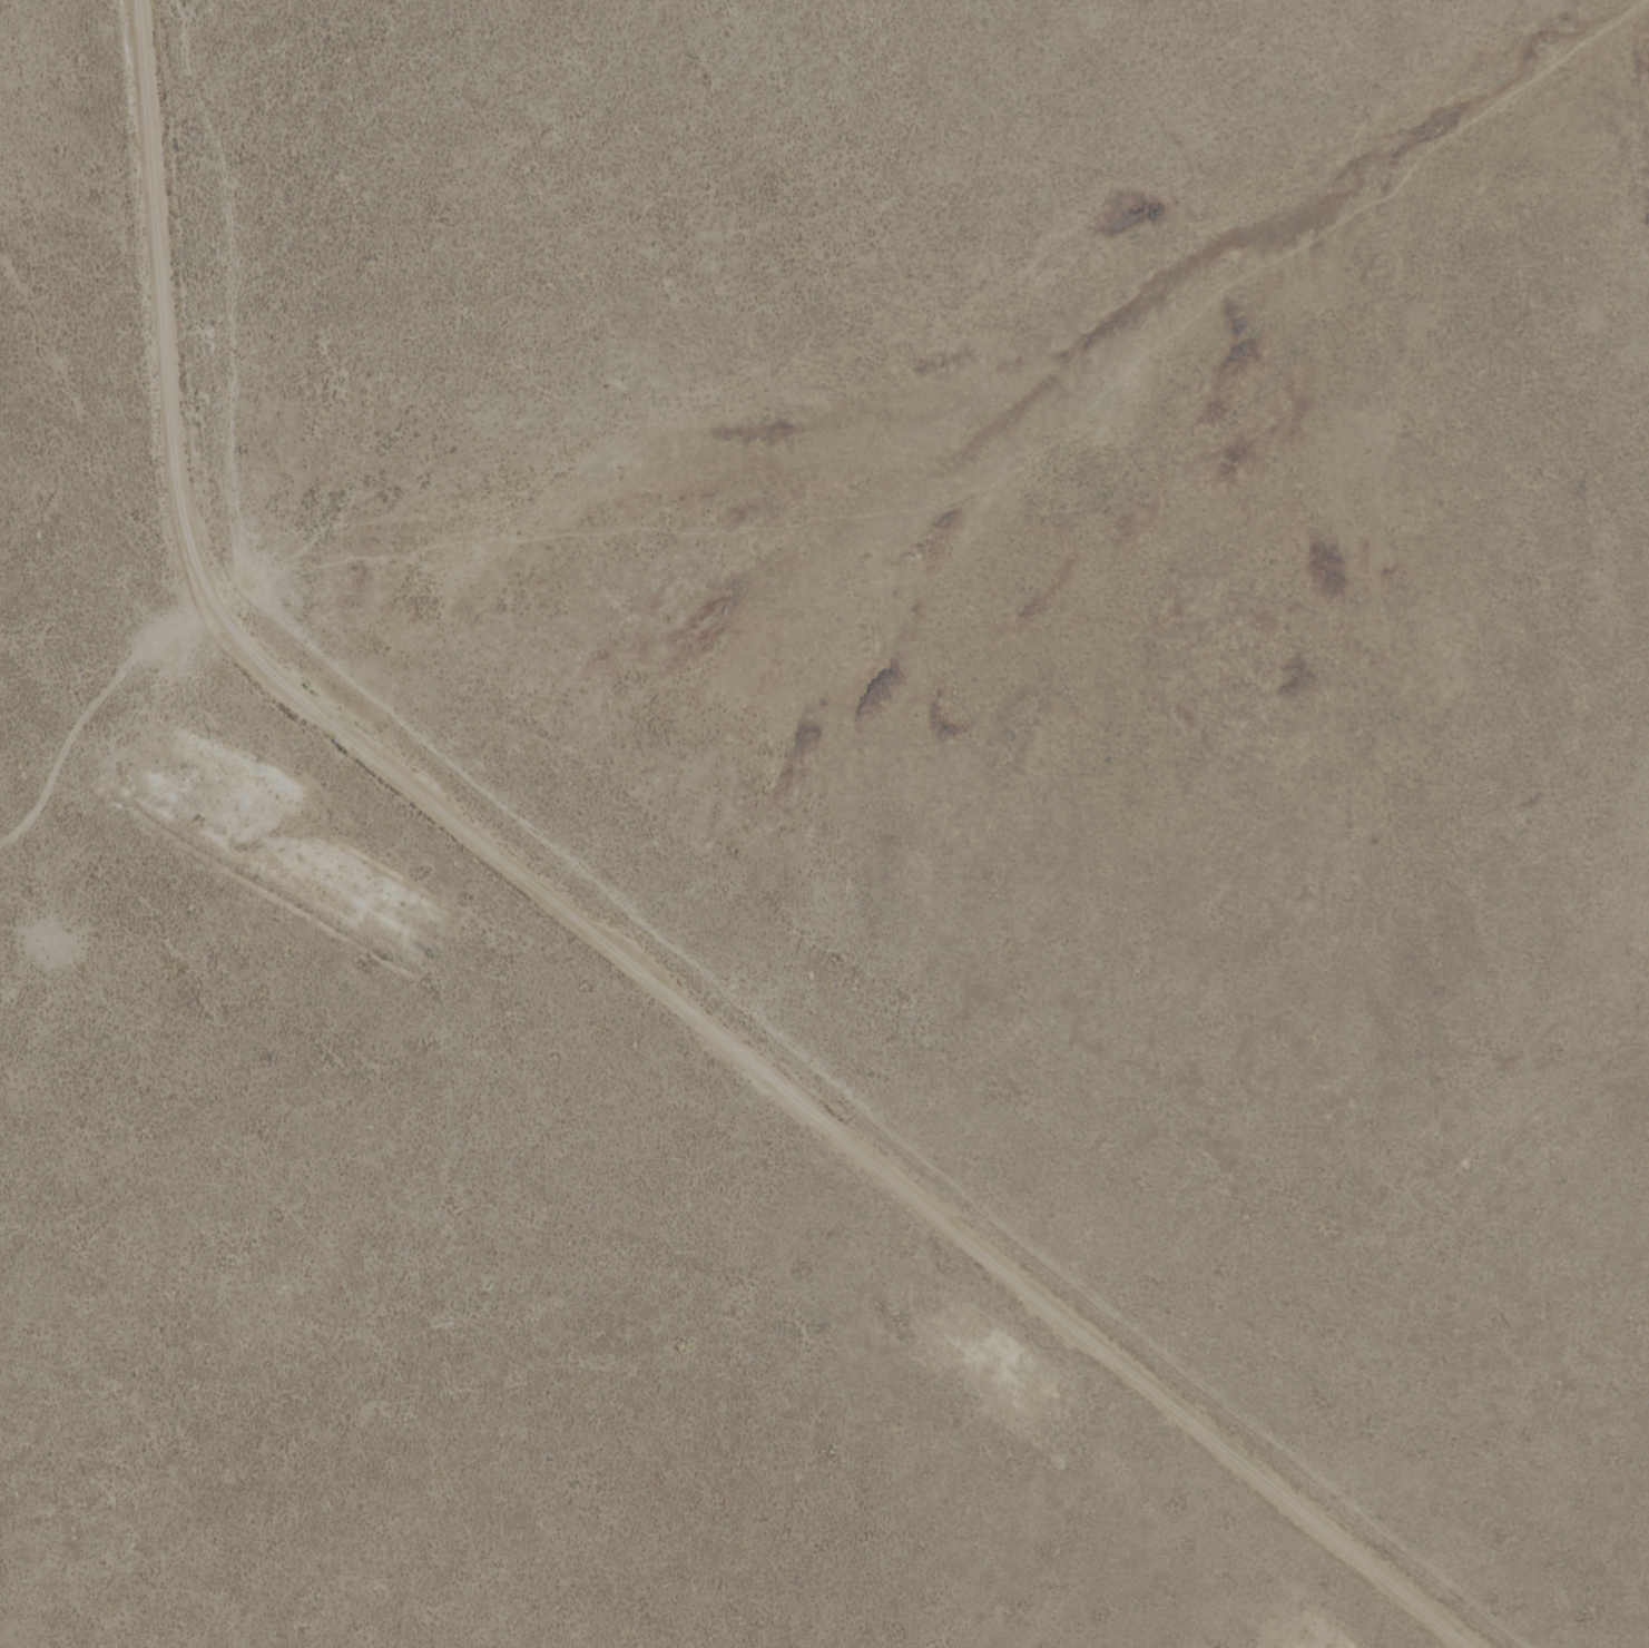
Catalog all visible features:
road: (163, 314)
road: (110, 653)
road: (848, 1137)

